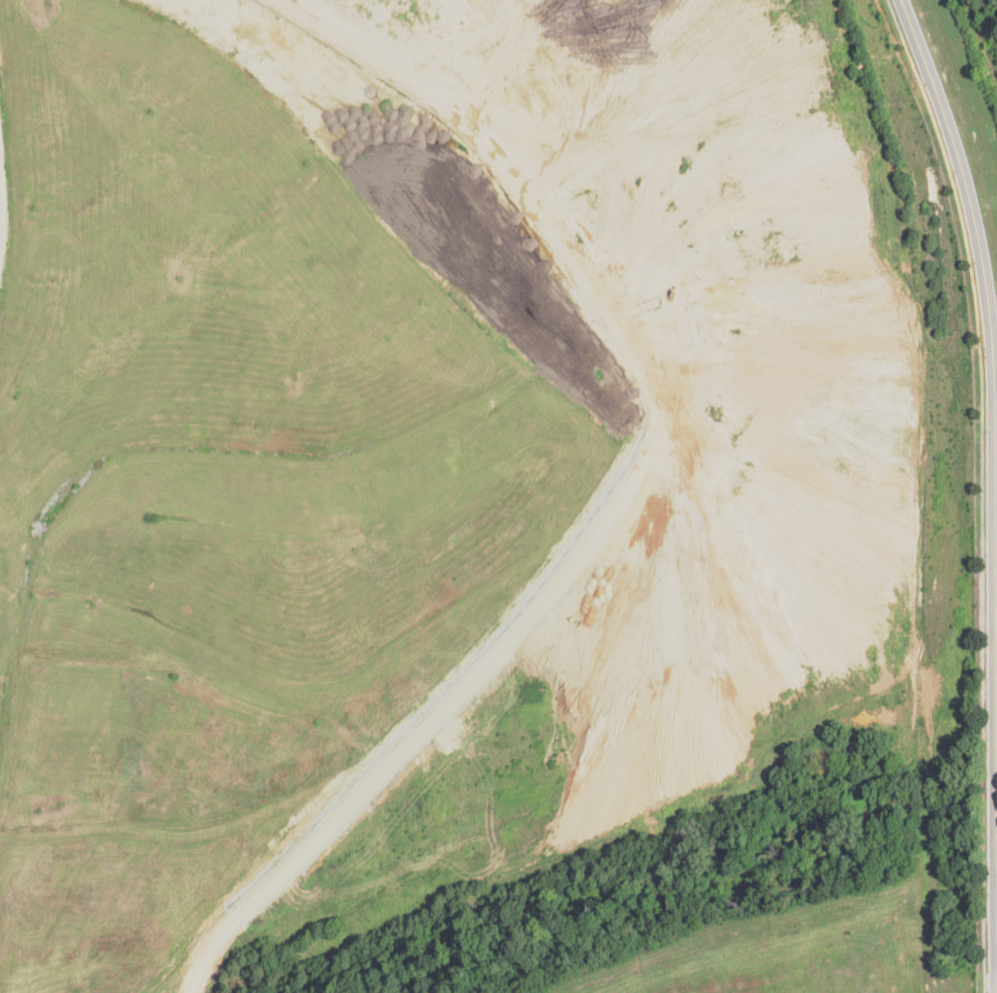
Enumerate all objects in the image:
landfill: (975, 63)
road: (0, 215)
road: (981, 250)
road: (980, 349)
landfill: (480, 502)
road: (598, 542)
road: (984, 950)

